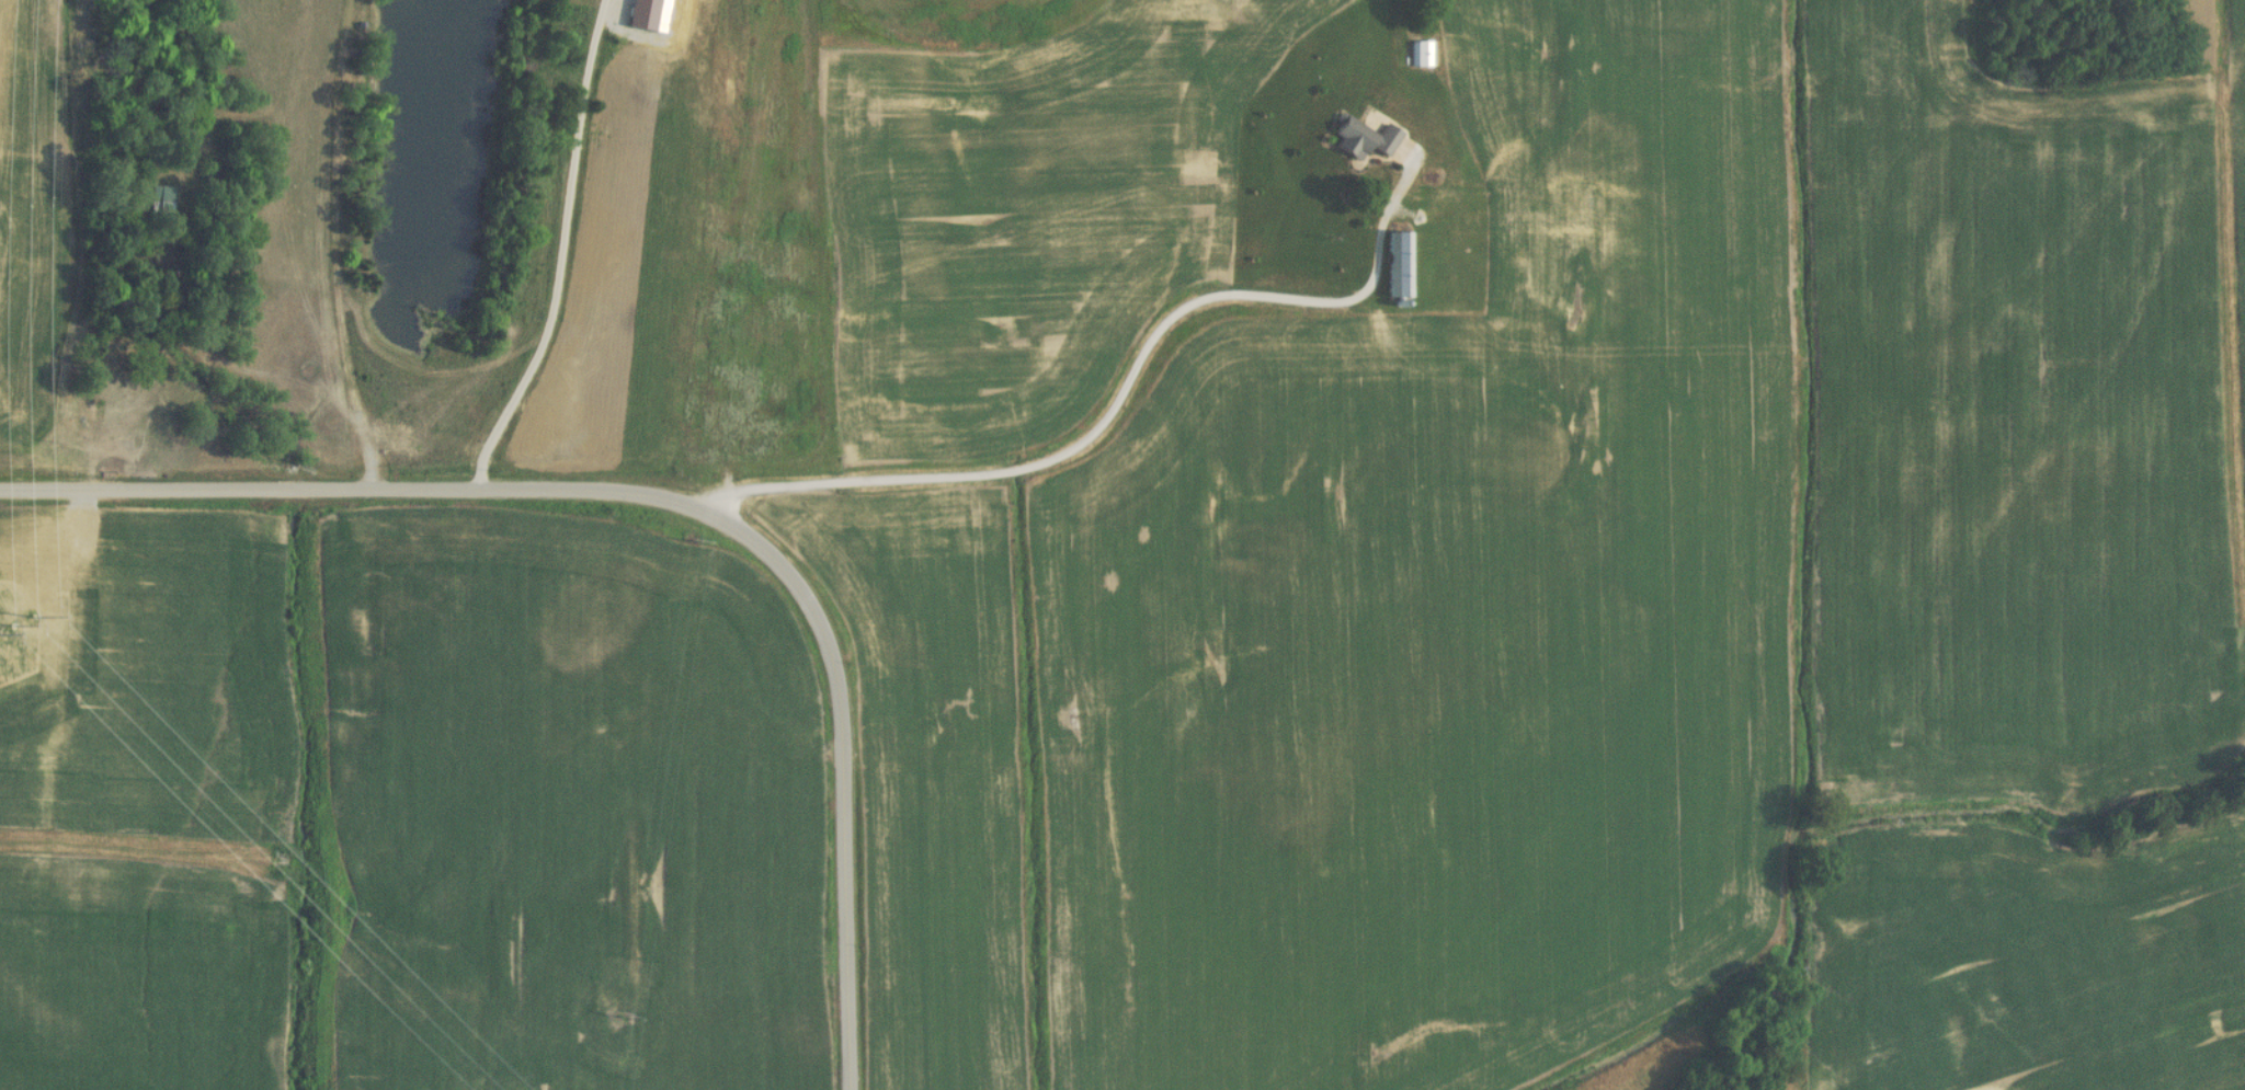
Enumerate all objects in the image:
building: (1418, 56)
building: (1361, 140)
building: (157, 205)
building: (1545, 239)
road: (561, 253)
building: (1397, 267)
road: (1131, 371)
road: (738, 495)
road: (670, 500)
power tower: (33, 620)

